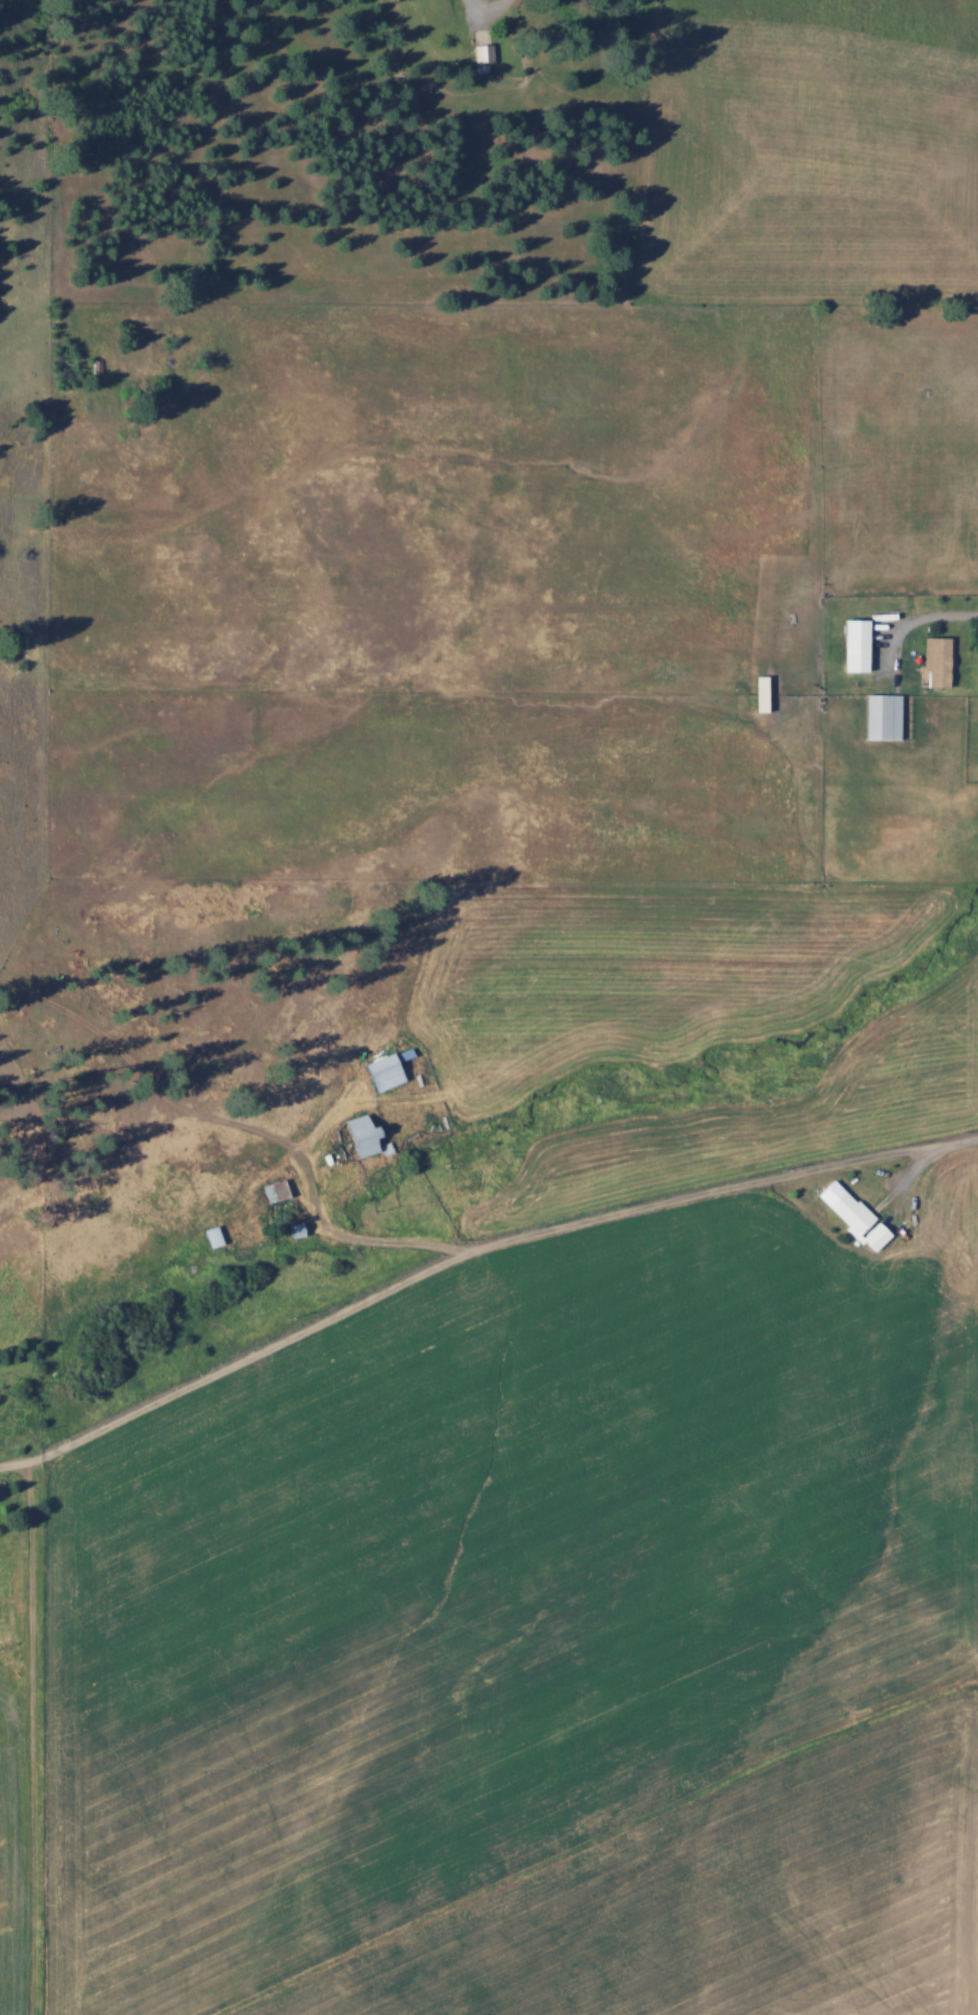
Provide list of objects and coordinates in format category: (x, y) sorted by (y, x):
building: (483, 52)
building: (96, 366)
building: (854, 645)
building: (938, 662)
building: (760, 693)
building: (881, 717)
building: (382, 1071)
building: (360, 1134)
building: (853, 1214)
building: (295, 1229)
building: (212, 1235)
road: (470, 1252)

